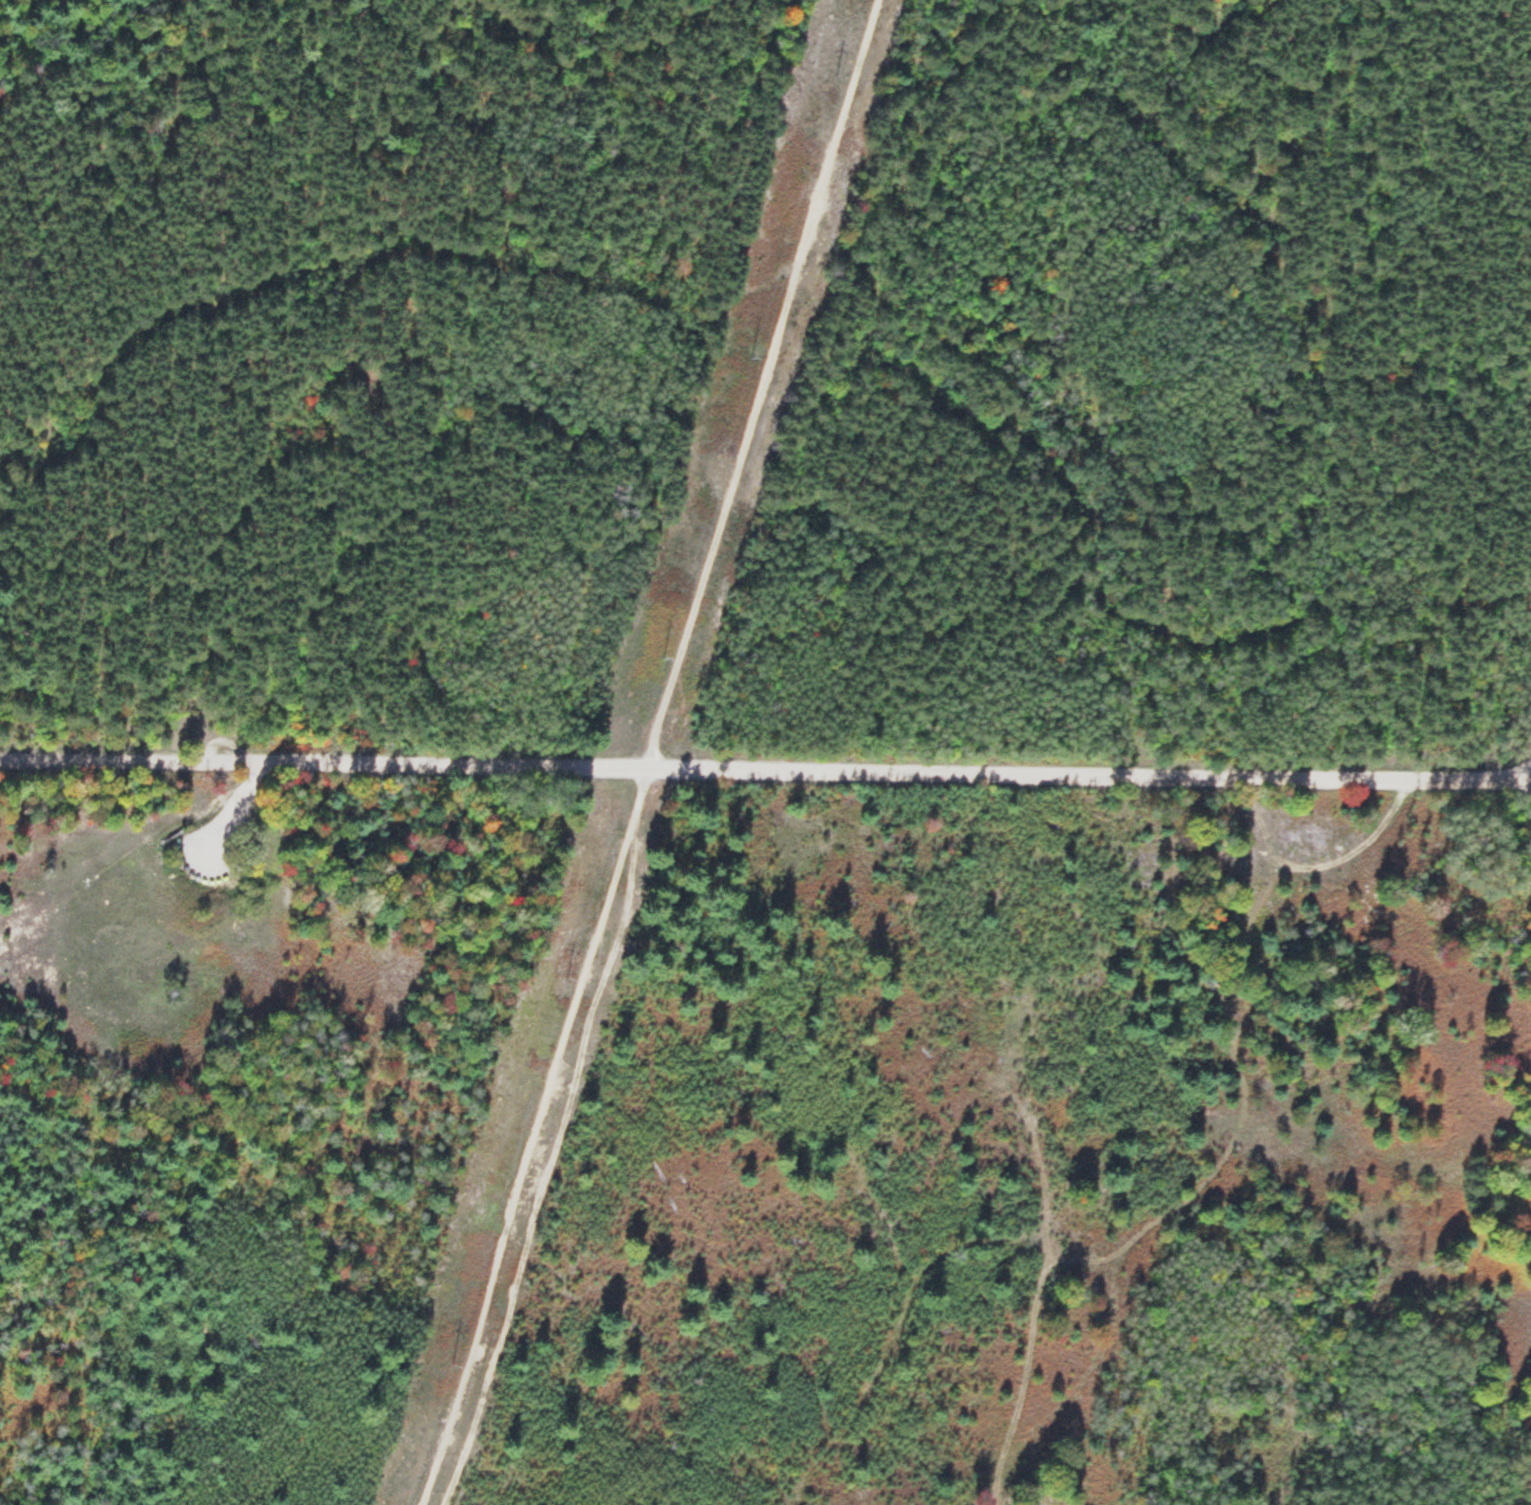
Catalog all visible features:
road: (650, 751)
road: (765, 768)
road: (241, 790)
parking lot: (211, 847)

